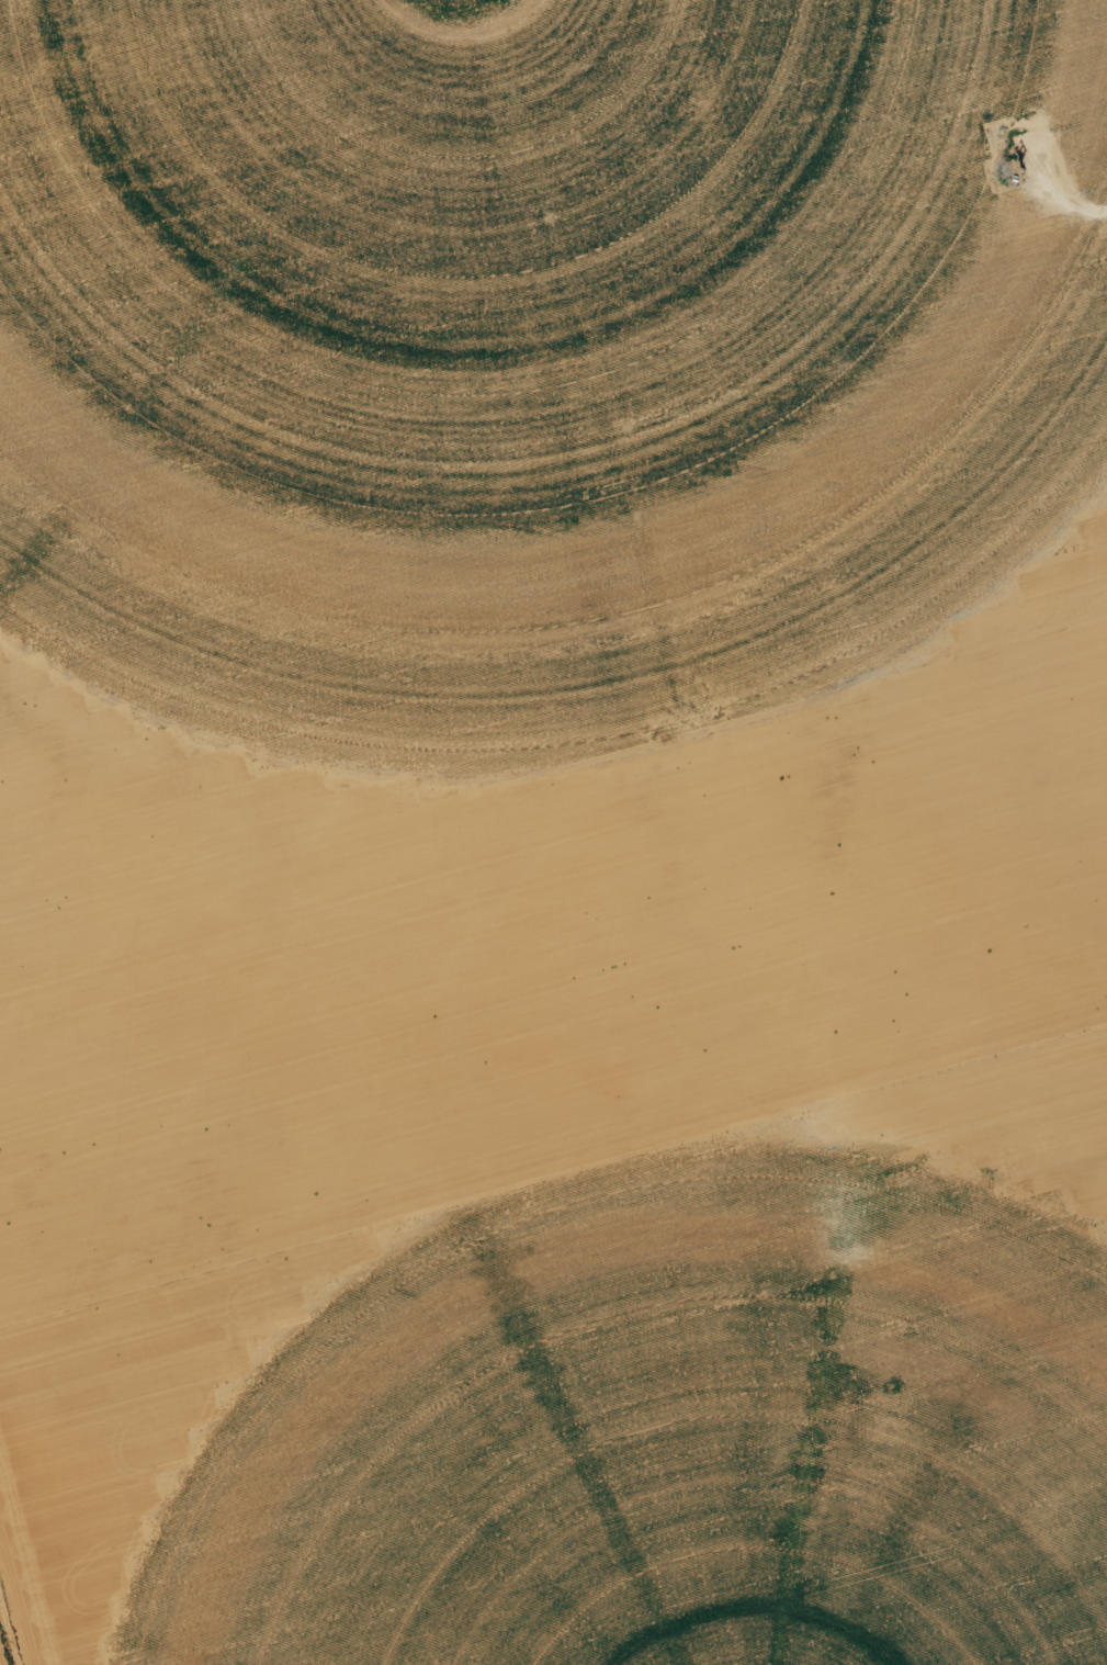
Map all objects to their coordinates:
road: (132, 844)

